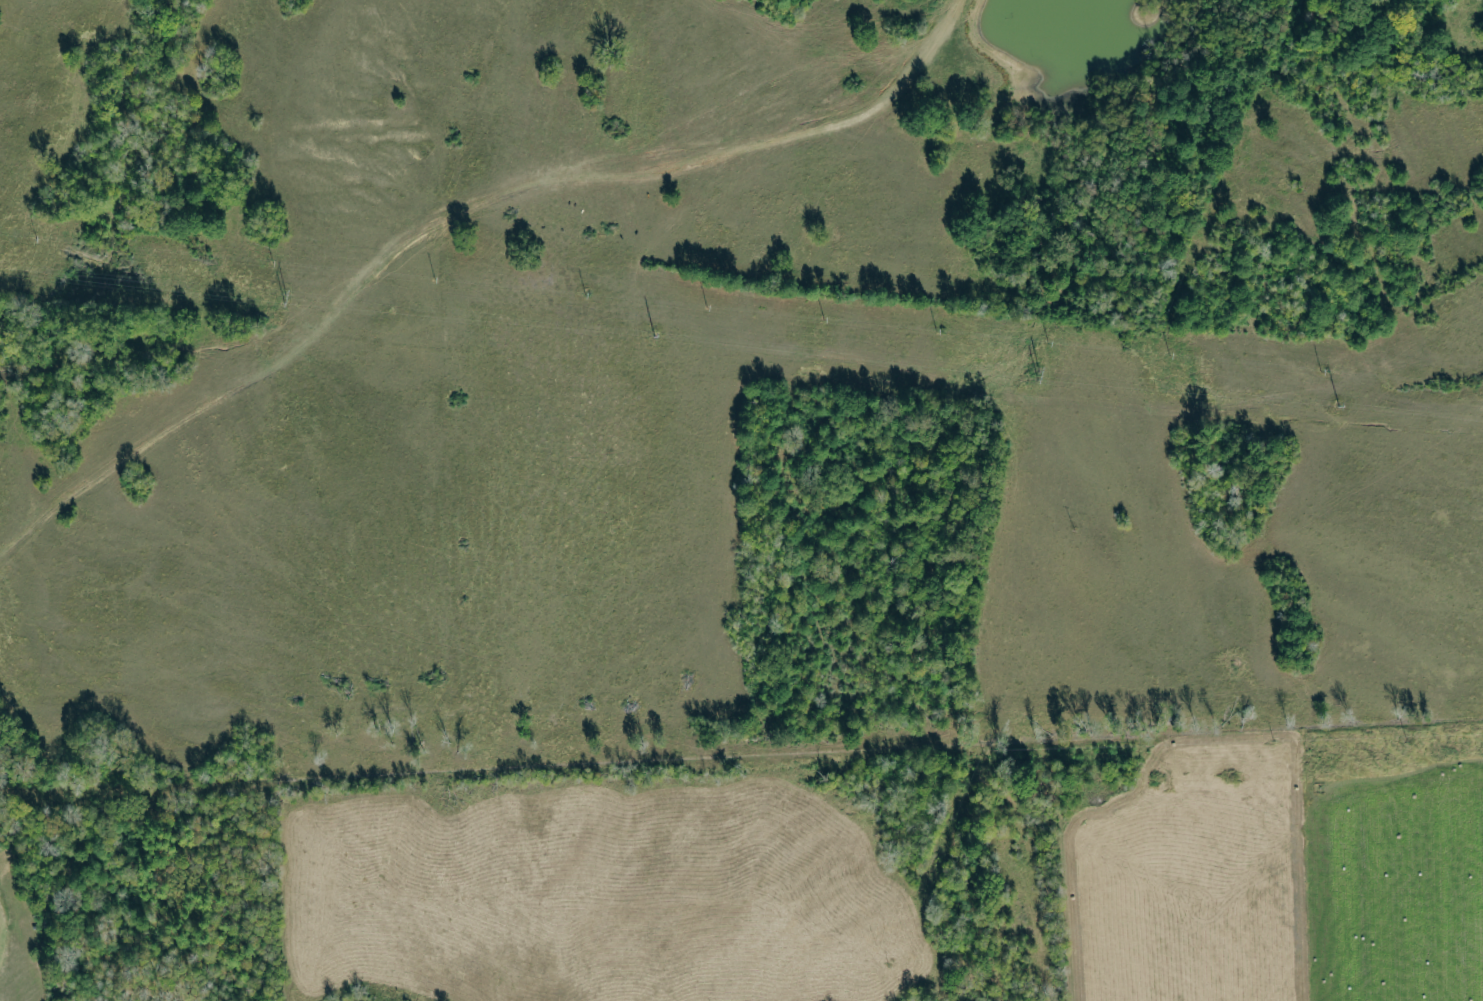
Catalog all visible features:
power tower: (287, 299)
power tower: (650, 340)
power tower: (1039, 377)
power tower: (1336, 407)

